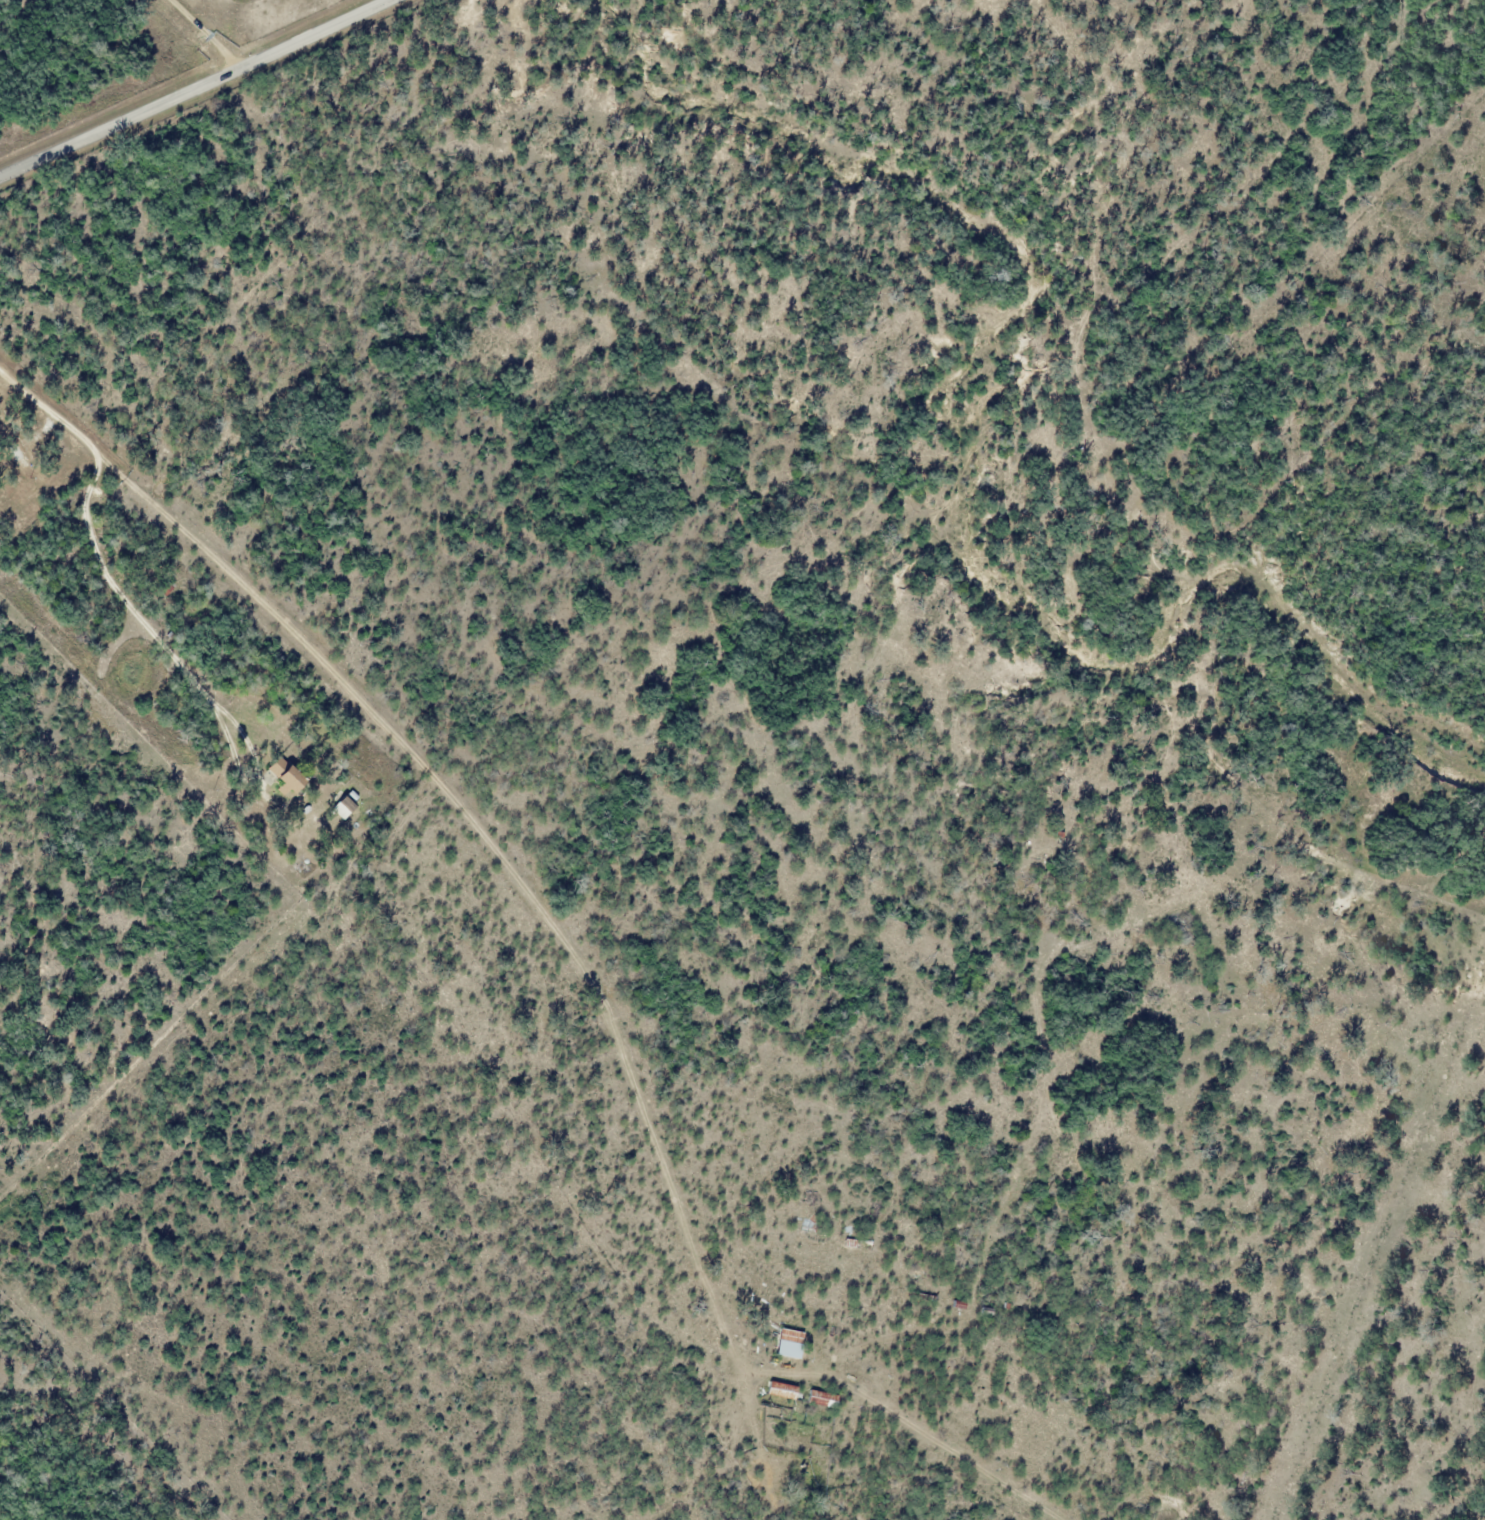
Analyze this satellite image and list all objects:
road: (213, 30)
road: (191, 88)
building: (170, 588)
building: (288, 777)
building: (345, 806)
road: (565, 944)
building: (790, 1343)
building: (782, 1390)
building: (823, 1399)

